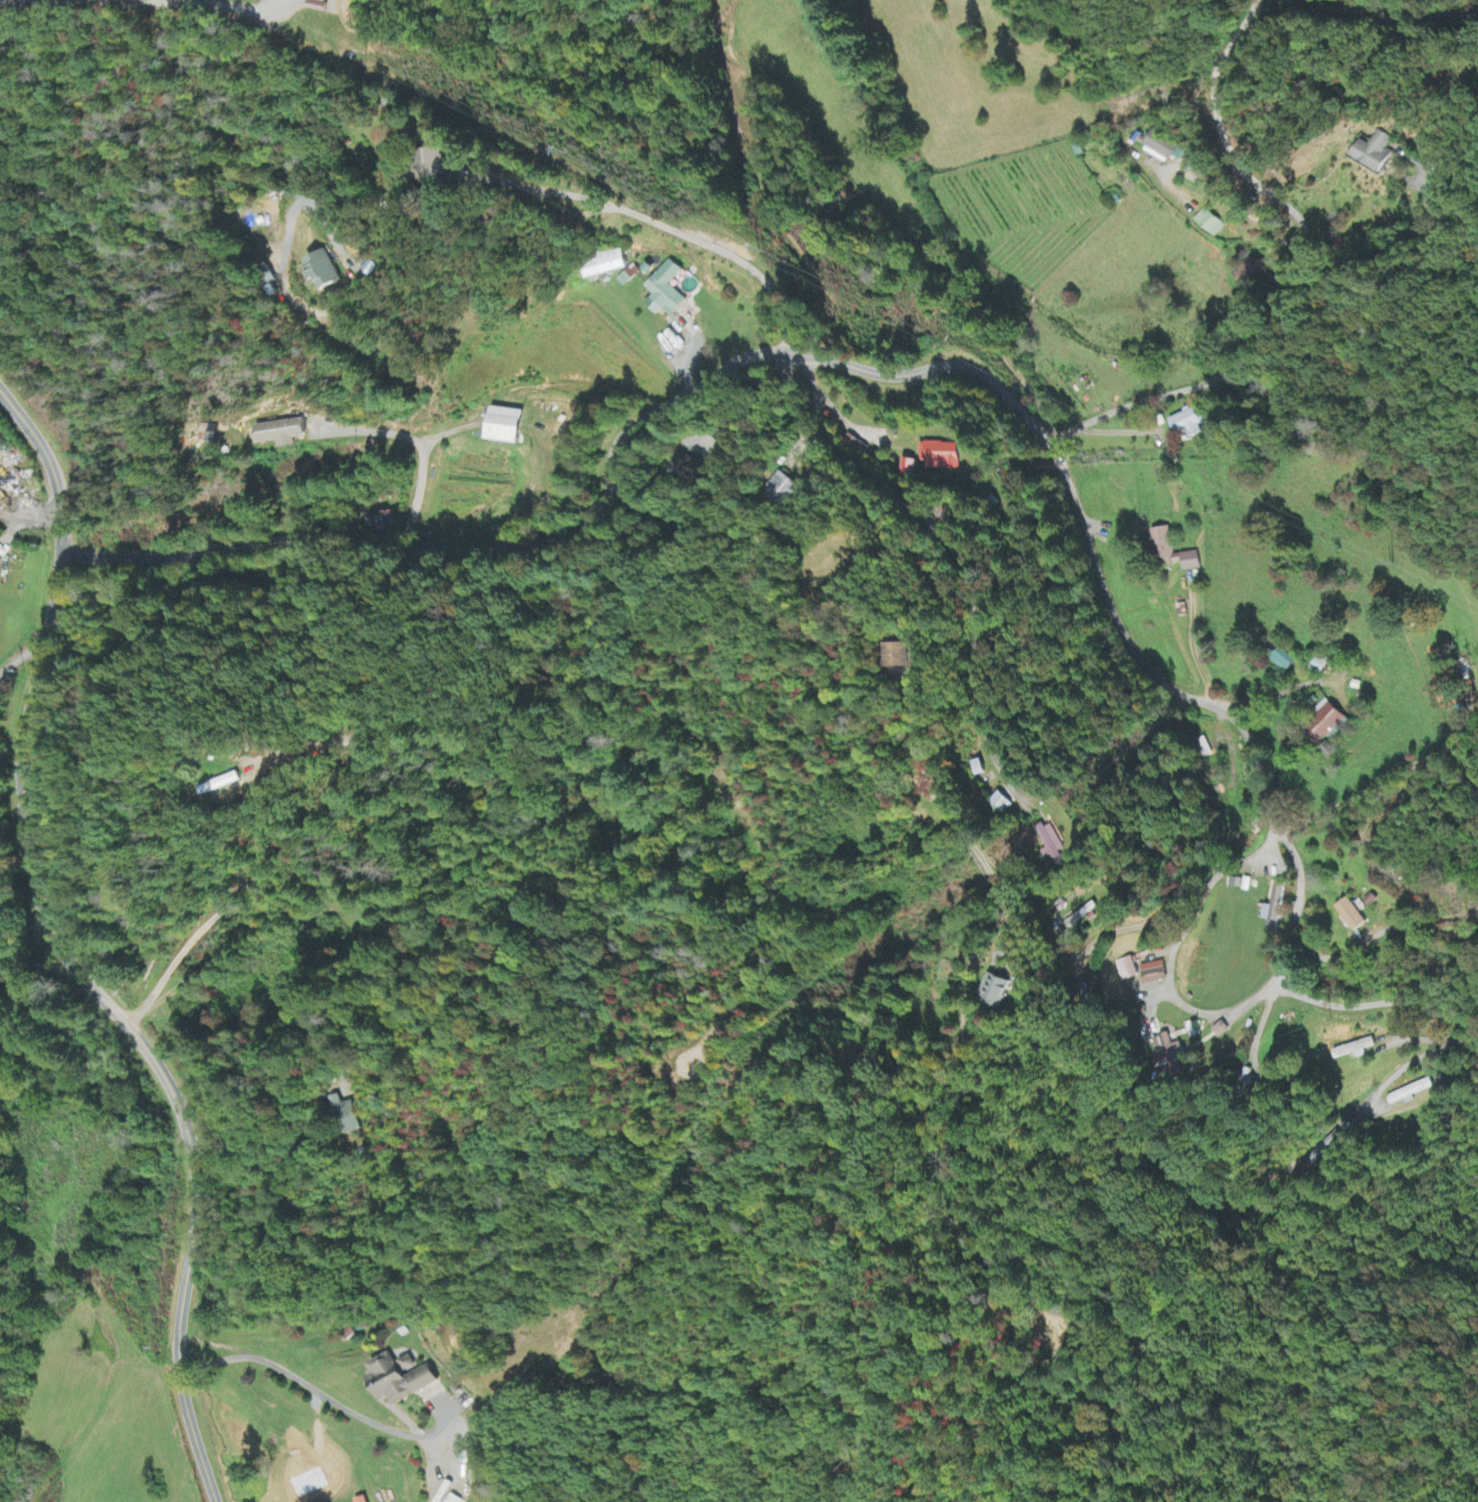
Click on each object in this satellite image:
road: (208, 0)
road: (69, 1)
building: (316, 1)
building: (1162, 149)
road: (1231, 153)
building: (1375, 153)
building: (433, 165)
road: (760, 184)
building: (1209, 224)
road: (1384, 243)
building: (603, 265)
building: (324, 273)
building: (1250, 273)
building: (628, 277)
building: (666, 289)
road: (875, 372)
road: (1189, 389)
building: (1186, 425)
building: (504, 427)
building: (280, 434)
building: (854, 447)
road: (420, 450)
building: (940, 457)
building: (688, 469)
building: (781, 488)
building: (380, 526)
road: (414, 546)
road: (952, 549)
building: (1171, 552)
building: (899, 653)
building: (1283, 661)
building: (1321, 664)
building: (1324, 722)
building: (977, 768)
road: (1260, 776)
road: (1384, 779)
building: (999, 804)
building: (1051, 843)
road: (1255, 853)
building: (1273, 908)
building: (1350, 915)
road: (63, 957)
building: (1125, 970)
building: (1153, 973)
building: (996, 991)
building: (1351, 1051)
building: (1410, 1093)
building: (344, 1117)
building: (1326, 1149)
building: (407, 1365)
building: (399, 1381)
building: (360, 1500)

